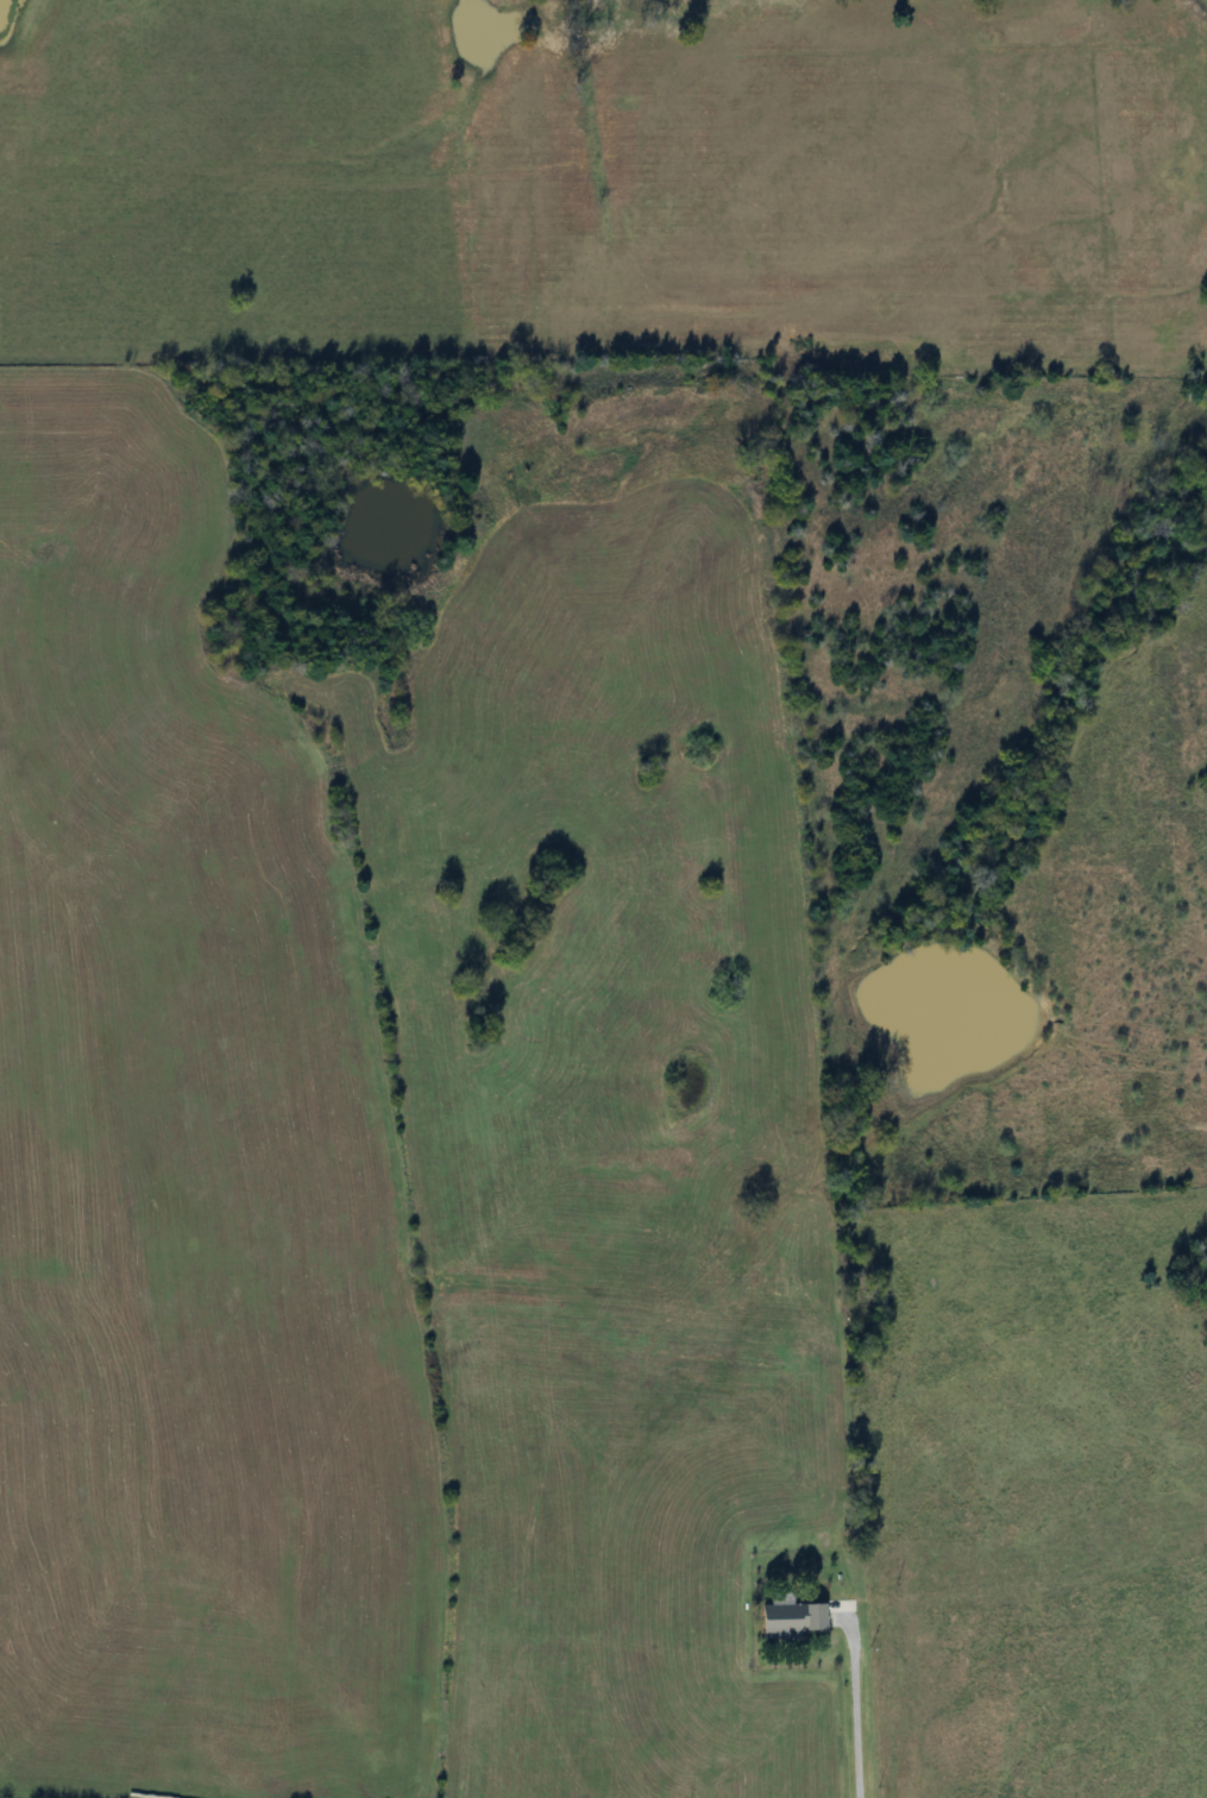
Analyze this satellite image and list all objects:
building: (787, 1621)
road: (847, 1710)

